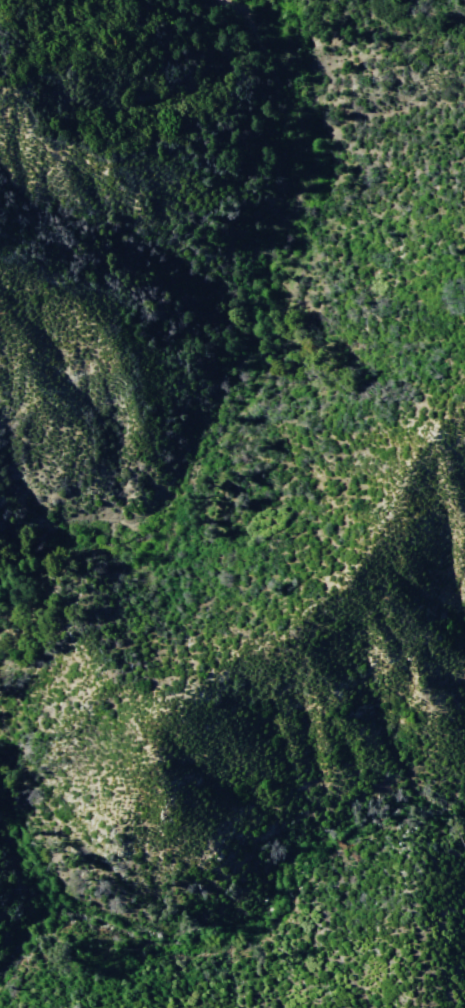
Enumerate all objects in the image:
road: (249, 346)
road: (19, 876)

